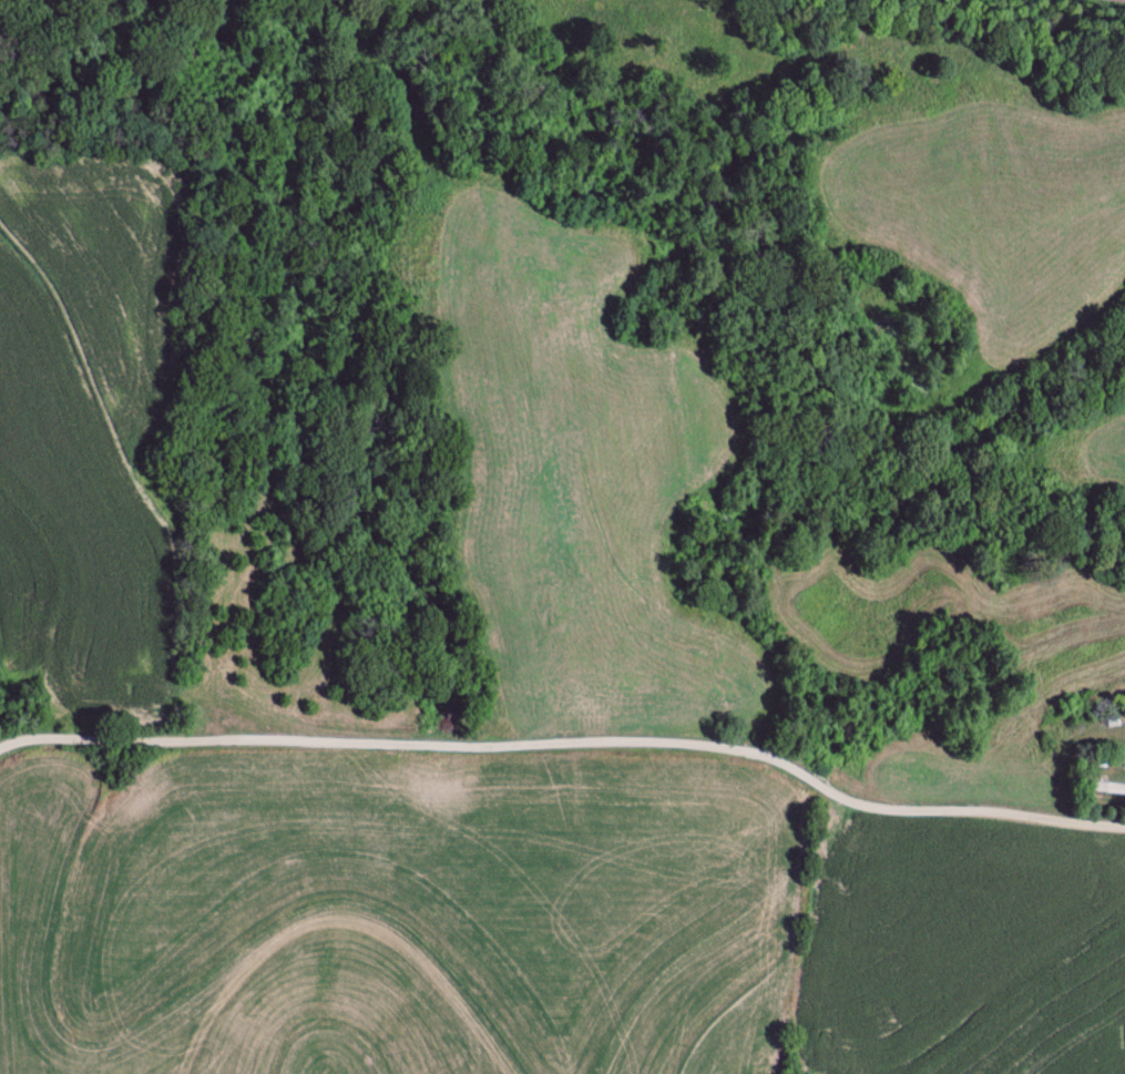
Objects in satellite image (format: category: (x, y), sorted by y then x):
road: (569, 740)

